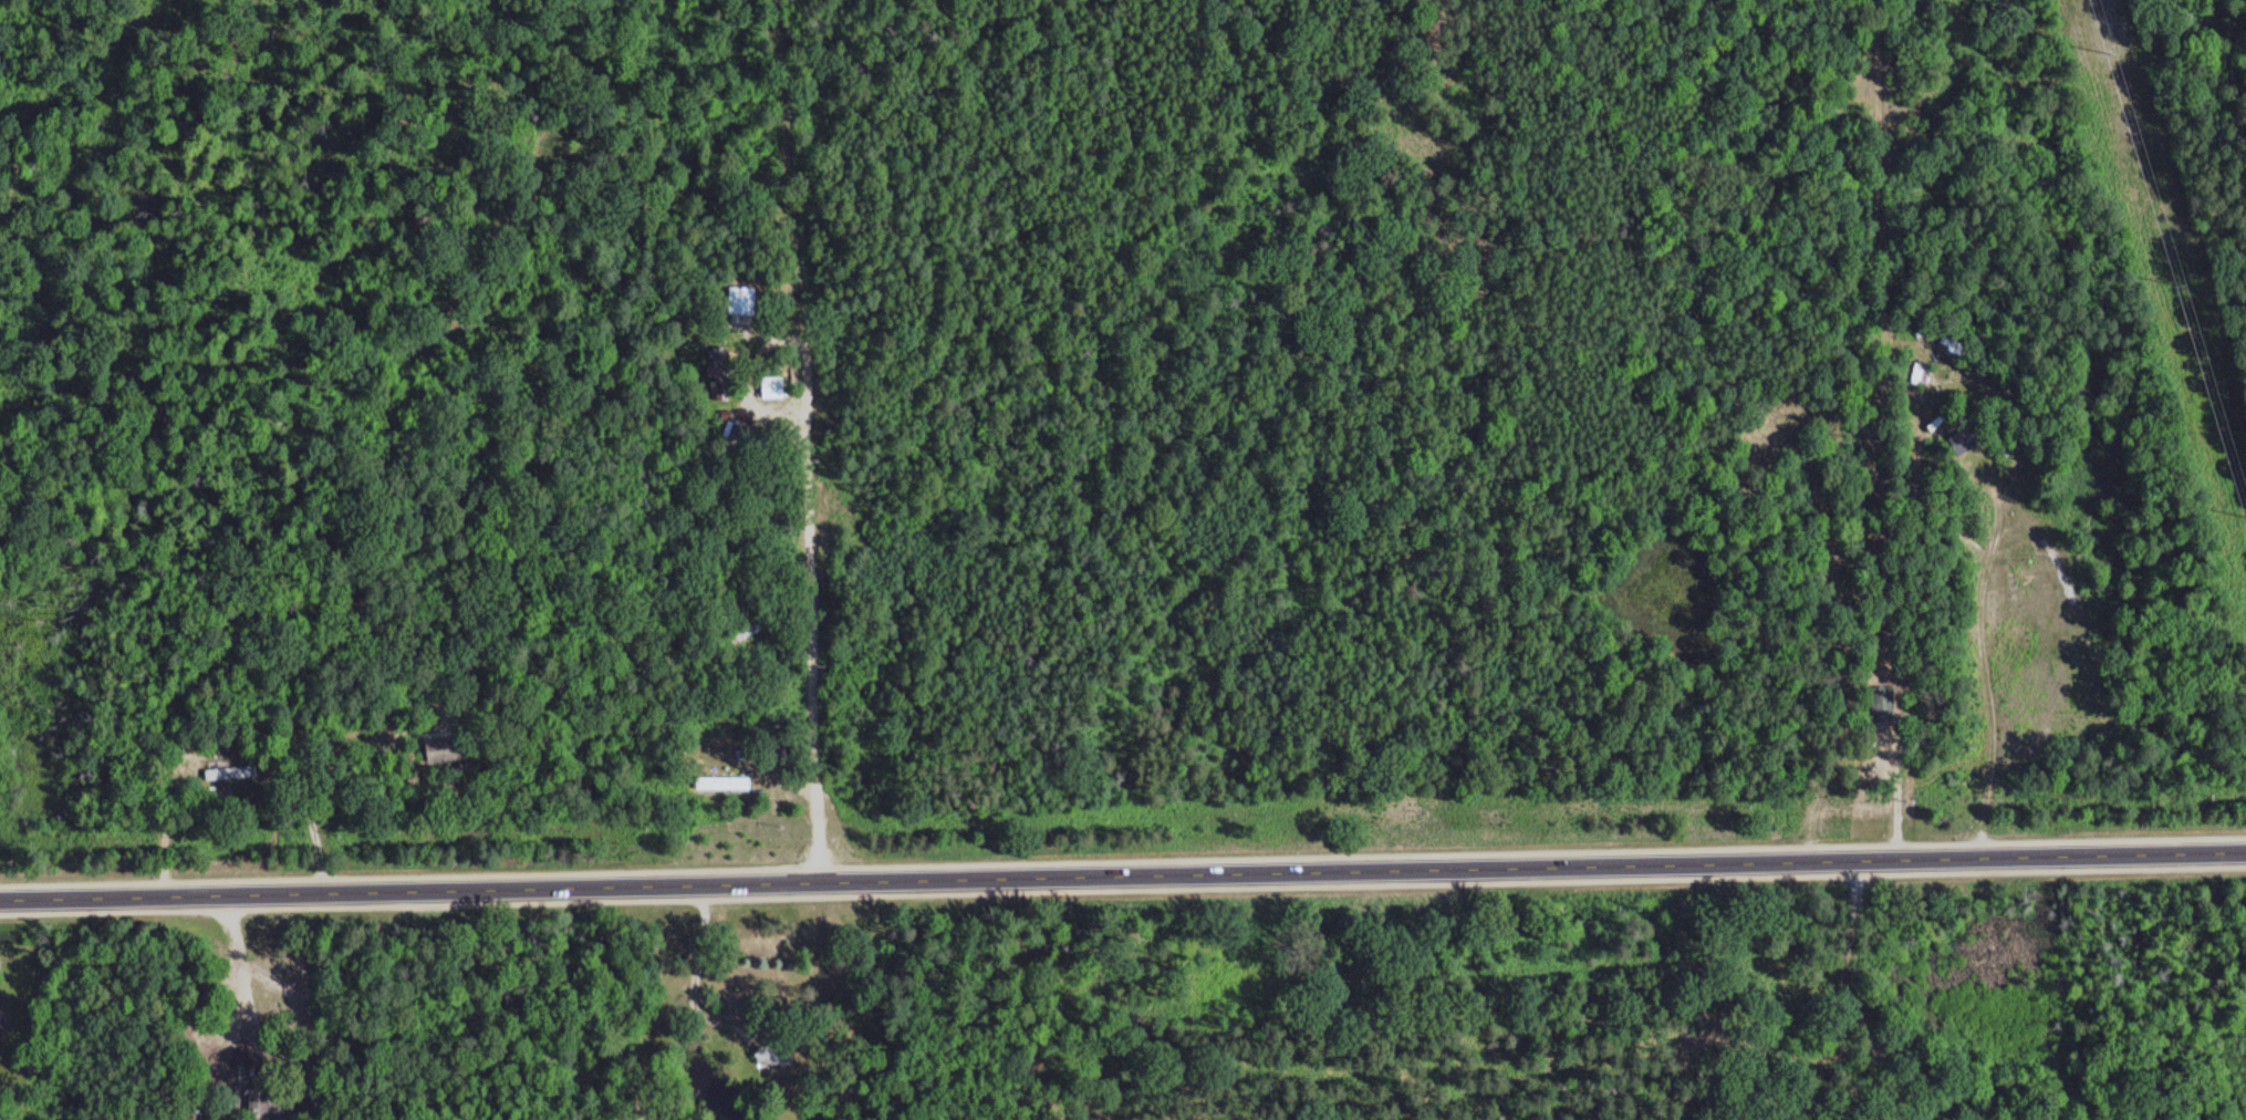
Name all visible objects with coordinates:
building: (1953, 372)
building: (1962, 439)
road: (824, 442)
building: (749, 632)
building: (236, 774)
building: (721, 782)
road: (1123, 878)
building: (11, 1026)
building: (772, 1052)

